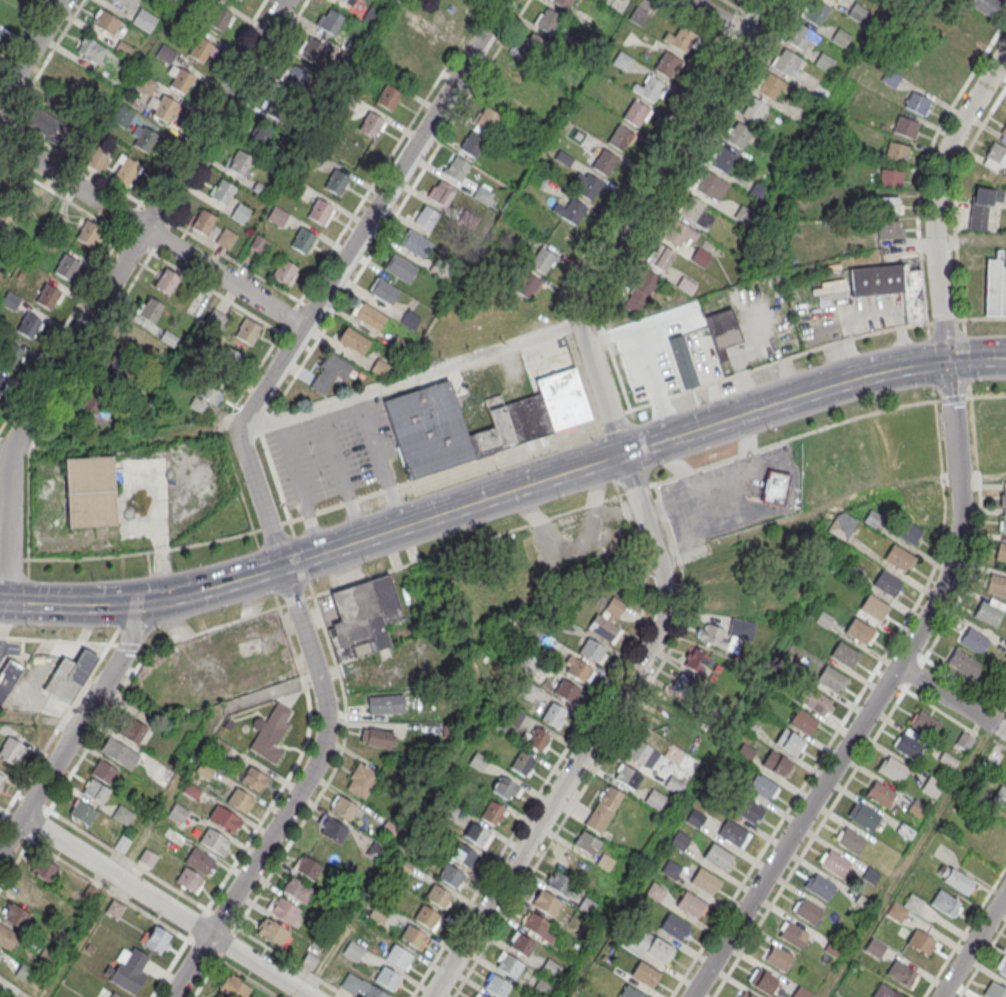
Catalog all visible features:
building: (834, 1)
building: (346, 2)
building: (126, 3)
building: (564, 3)
building: (449, 5)
building: (984, 5)
building: (857, 12)
building: (816, 13)
road: (713, 17)
building: (220, 18)
building: (144, 19)
building: (106, 21)
building: (330, 21)
building: (548, 21)
building: (0, 31)
building: (840, 37)
building: (959, 38)
building: (425, 39)
building: (681, 39)
building: (802, 39)
building: (534, 47)
building: (90, 48)
road: (30, 49)
building: (201, 50)
building: (311, 51)
building: (165, 53)
building: (788, 63)
building: (667, 64)
building: (407, 68)
building: (73, 74)
building: (293, 78)
building: (181, 80)
building: (771, 86)
building: (650, 89)
building: (388, 97)
building: (917, 103)
building: (160, 106)
building: (276, 107)
building: (753, 111)
building: (636, 113)
building: (486, 119)
building: (371, 124)
building: (48, 126)
building: (906, 126)
building: (1003, 129)
building: (259, 135)
building: (736, 135)
building: (620, 137)
building: (143, 138)
building: (472, 144)
building: (897, 151)
building: (995, 157)
building: (721, 159)
building: (602, 160)
building: (240, 163)
building: (456, 167)
building: (125, 172)
building: (890, 177)
building: (336, 181)
building: (585, 184)
building: (708, 184)
building: (2, 185)
building: (223, 192)
building: (440, 193)
building: (483, 193)
road: (935, 198)
building: (891, 204)
building: (1, 205)
building: (982, 206)
building: (319, 210)
building: (570, 210)
building: (240, 212)
building: (694, 212)
building: (277, 215)
building: (744, 215)
road: (626, 217)
building: (426, 219)
building: (203, 222)
building: (890, 228)
building: (88, 232)
road: (151, 233)
building: (678, 234)
building: (226, 238)
building: (303, 240)
road: (970, 241)
building: (258, 244)
building: (415, 244)
building: (659, 256)
building: (700, 257)
building: (543, 260)
building: (66, 266)
building: (400, 269)
building: (285, 271)
road: (336, 274)
building: (166, 281)
building: (526, 285)
building: (890, 286)
building: (995, 288)
road: (106, 289)
building: (639, 290)
building: (383, 292)
building: (48, 296)
building: (10, 300)
building: (149, 309)
building: (370, 317)
road: (953, 320)
building: (29, 325)
building: (247, 331)
building: (722, 331)
building: (353, 341)
building: (11, 355)
building: (118, 355)
building: (232, 356)
road: (976, 360)
traffic signals: (947, 363)
building: (684, 366)
building: (379, 368)
road: (651, 371)
building: (330, 373)
road: (412, 379)
building: (3, 386)
building: (207, 395)
building: (91, 399)
building: (562, 399)
building: (476, 408)
building: (519, 420)
building: (428, 429)
road: (794, 438)
road: (127, 442)
parking lot: (334, 455)
road: (612, 456)
road: (380, 461)
road: (455, 469)
road: (341, 473)
road: (300, 486)
building: (775, 487)
building: (90, 490)
building: (1003, 499)
road: (979, 517)
building: (1003, 522)
building: (842, 525)
building: (908, 531)
building: (1001, 552)
building: (898, 559)
building: (853, 570)
building: (722, 571)
road: (221, 584)
building: (887, 584)
building: (996, 585)
road: (330, 589)
traffic signals: (159, 597)
building: (720, 603)
road: (79, 604)
building: (873, 608)
building: (989, 612)
building: (363, 617)
building: (604, 630)
building: (860, 632)
building: (727, 635)
building: (974, 641)
building: (591, 650)
building: (844, 655)
building: (1005, 657)
building: (695, 661)
building: (964, 664)
building: (578, 670)
road: (914, 674)
building: (8, 675)
building: (69, 676)
building: (830, 679)
road: (965, 685)
building: (681, 686)
building: (566, 692)
road: (878, 695)
road: (858, 697)
road: (951, 699)
building: (816, 701)
building: (385, 704)
building: (668, 706)
building: (553, 715)
road: (40, 721)
building: (802, 722)
road: (80, 724)
building: (925, 725)
building: (131, 730)
building: (270, 732)
road: (594, 735)
building: (376, 737)
building: (537, 738)
building: (963, 740)
building: (790, 743)
building: (909, 746)
building: (10, 750)
building: (119, 753)
building: (745, 754)
building: (642, 755)
building: (948, 760)
building: (523, 763)
building: (777, 765)
building: (893, 770)
building: (104, 771)
building: (205, 771)
building: (253, 778)
building: (627, 778)
building: (1, 779)
building: (363, 780)
building: (673, 783)
building: (931, 786)
road: (584, 787)
building: (762, 787)
building: (506, 788)
building: (95, 791)
building: (191, 791)
road: (298, 792)
road: (840, 793)
building: (879, 794)
building: (1000, 796)
building: (654, 798)
building: (240, 800)
building: (916, 807)
building: (345, 808)
building: (603, 810)
building: (748, 811)
building: (82, 812)
building: (178, 813)
building: (493, 813)
building: (122, 814)
building: (695, 818)
building: (866, 818)
building: (225, 819)
building: (333, 829)
building: (732, 834)
building: (477, 836)
building: (680, 840)
building: (215, 841)
building: (851, 842)
building: (122, 843)
building: (586, 844)
building: (463, 856)
building: (148, 858)
building: (718, 858)
building: (199, 860)
building: (572, 862)
building: (835, 865)
building: (308, 867)
building: (671, 869)
building: (43, 870)
building: (451, 876)
building: (870, 876)
building: (955, 878)
building: (189, 879)
building: (704, 882)
building: (560, 884)
building: (821, 888)
building: (297, 889)
building: (656, 891)
building: (26, 894)
building: (437, 896)
building: (546, 904)
building: (586, 904)
building: (913, 904)
building: (945, 904)
building: (690, 905)
road: (166, 906)
building: (114, 909)
building: (284, 909)
building: (808, 912)
building: (380, 913)
building: (896, 913)
building: (16, 916)
building: (426, 917)
building: (535, 924)
building: (674, 928)
road: (237, 929)
road: (965, 931)
building: (273, 932)
building: (794, 936)
building: (7, 937)
building: (414, 938)
building: (156, 939)
building: (921, 943)
road: (972, 944)
building: (522, 945)
building: (649, 947)
building: (876, 947)
building: (353, 951)
building: (0, 954)
building: (399, 957)
building: (779, 959)
building: (509, 966)
building: (1002, 966)
road: (170, 968)
building: (551, 968)
building: (128, 971)
building: (25, 974)
building: (645, 974)
building: (901, 974)
building: (387, 979)
building: (763, 982)
building: (544, 985)
building: (497, 986)
building: (234, 987)
building: (361, 987)
building: (994, 991)
building: (630, 992)
building: (801, 992)
building: (884, 992)
building: (743, 994)
building: (115, 995)
building: (480, 996)

